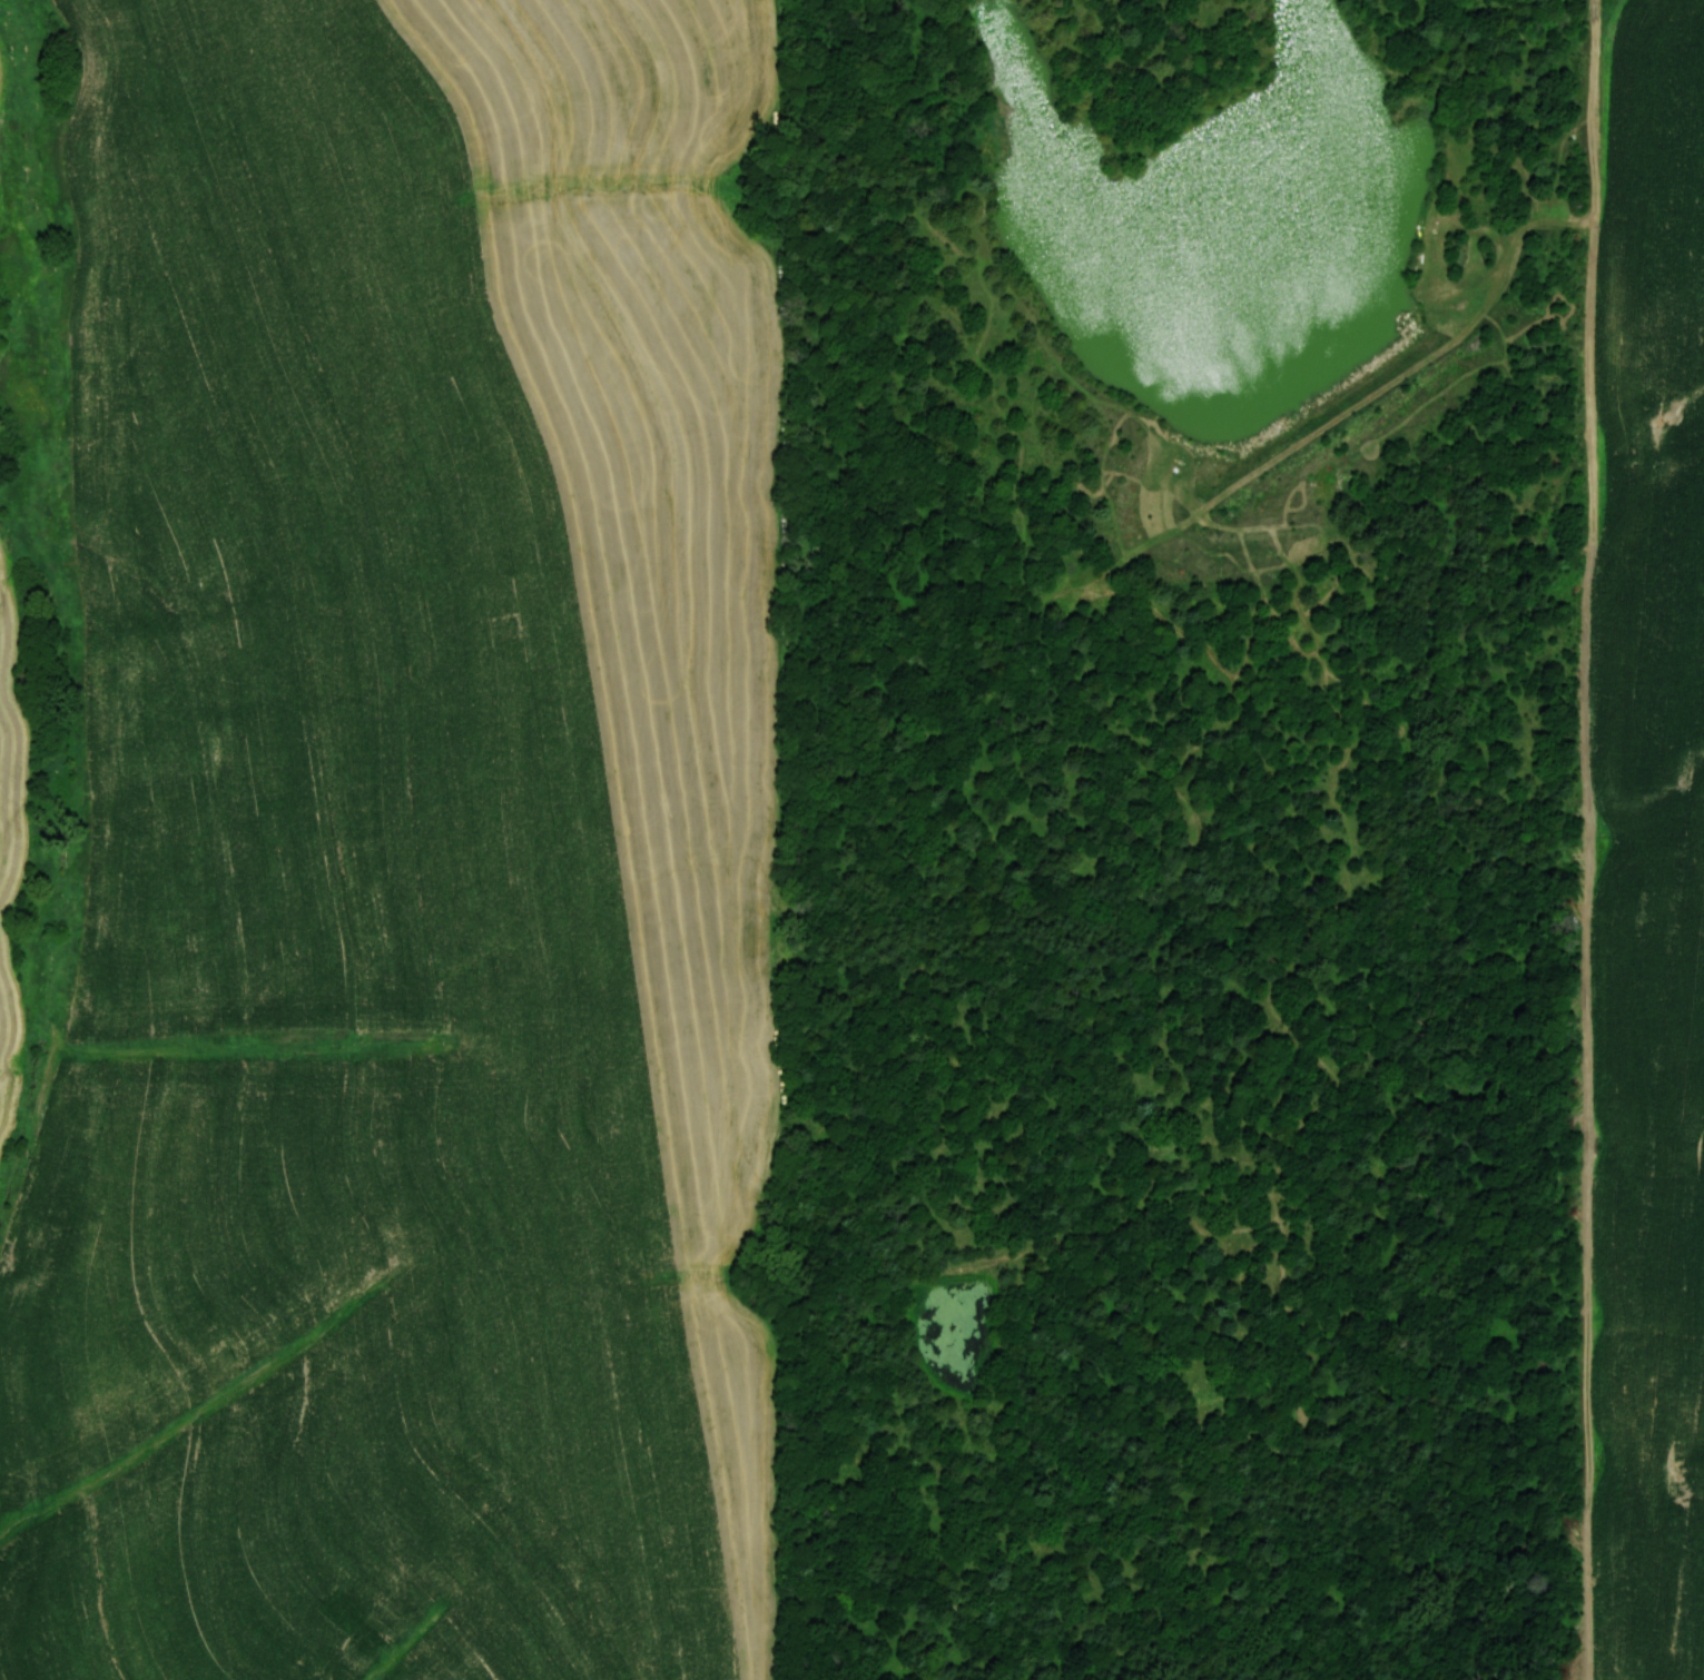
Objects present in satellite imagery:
dam: (1159, 393)
road: (1593, 840)
road: (1648, 1296)

